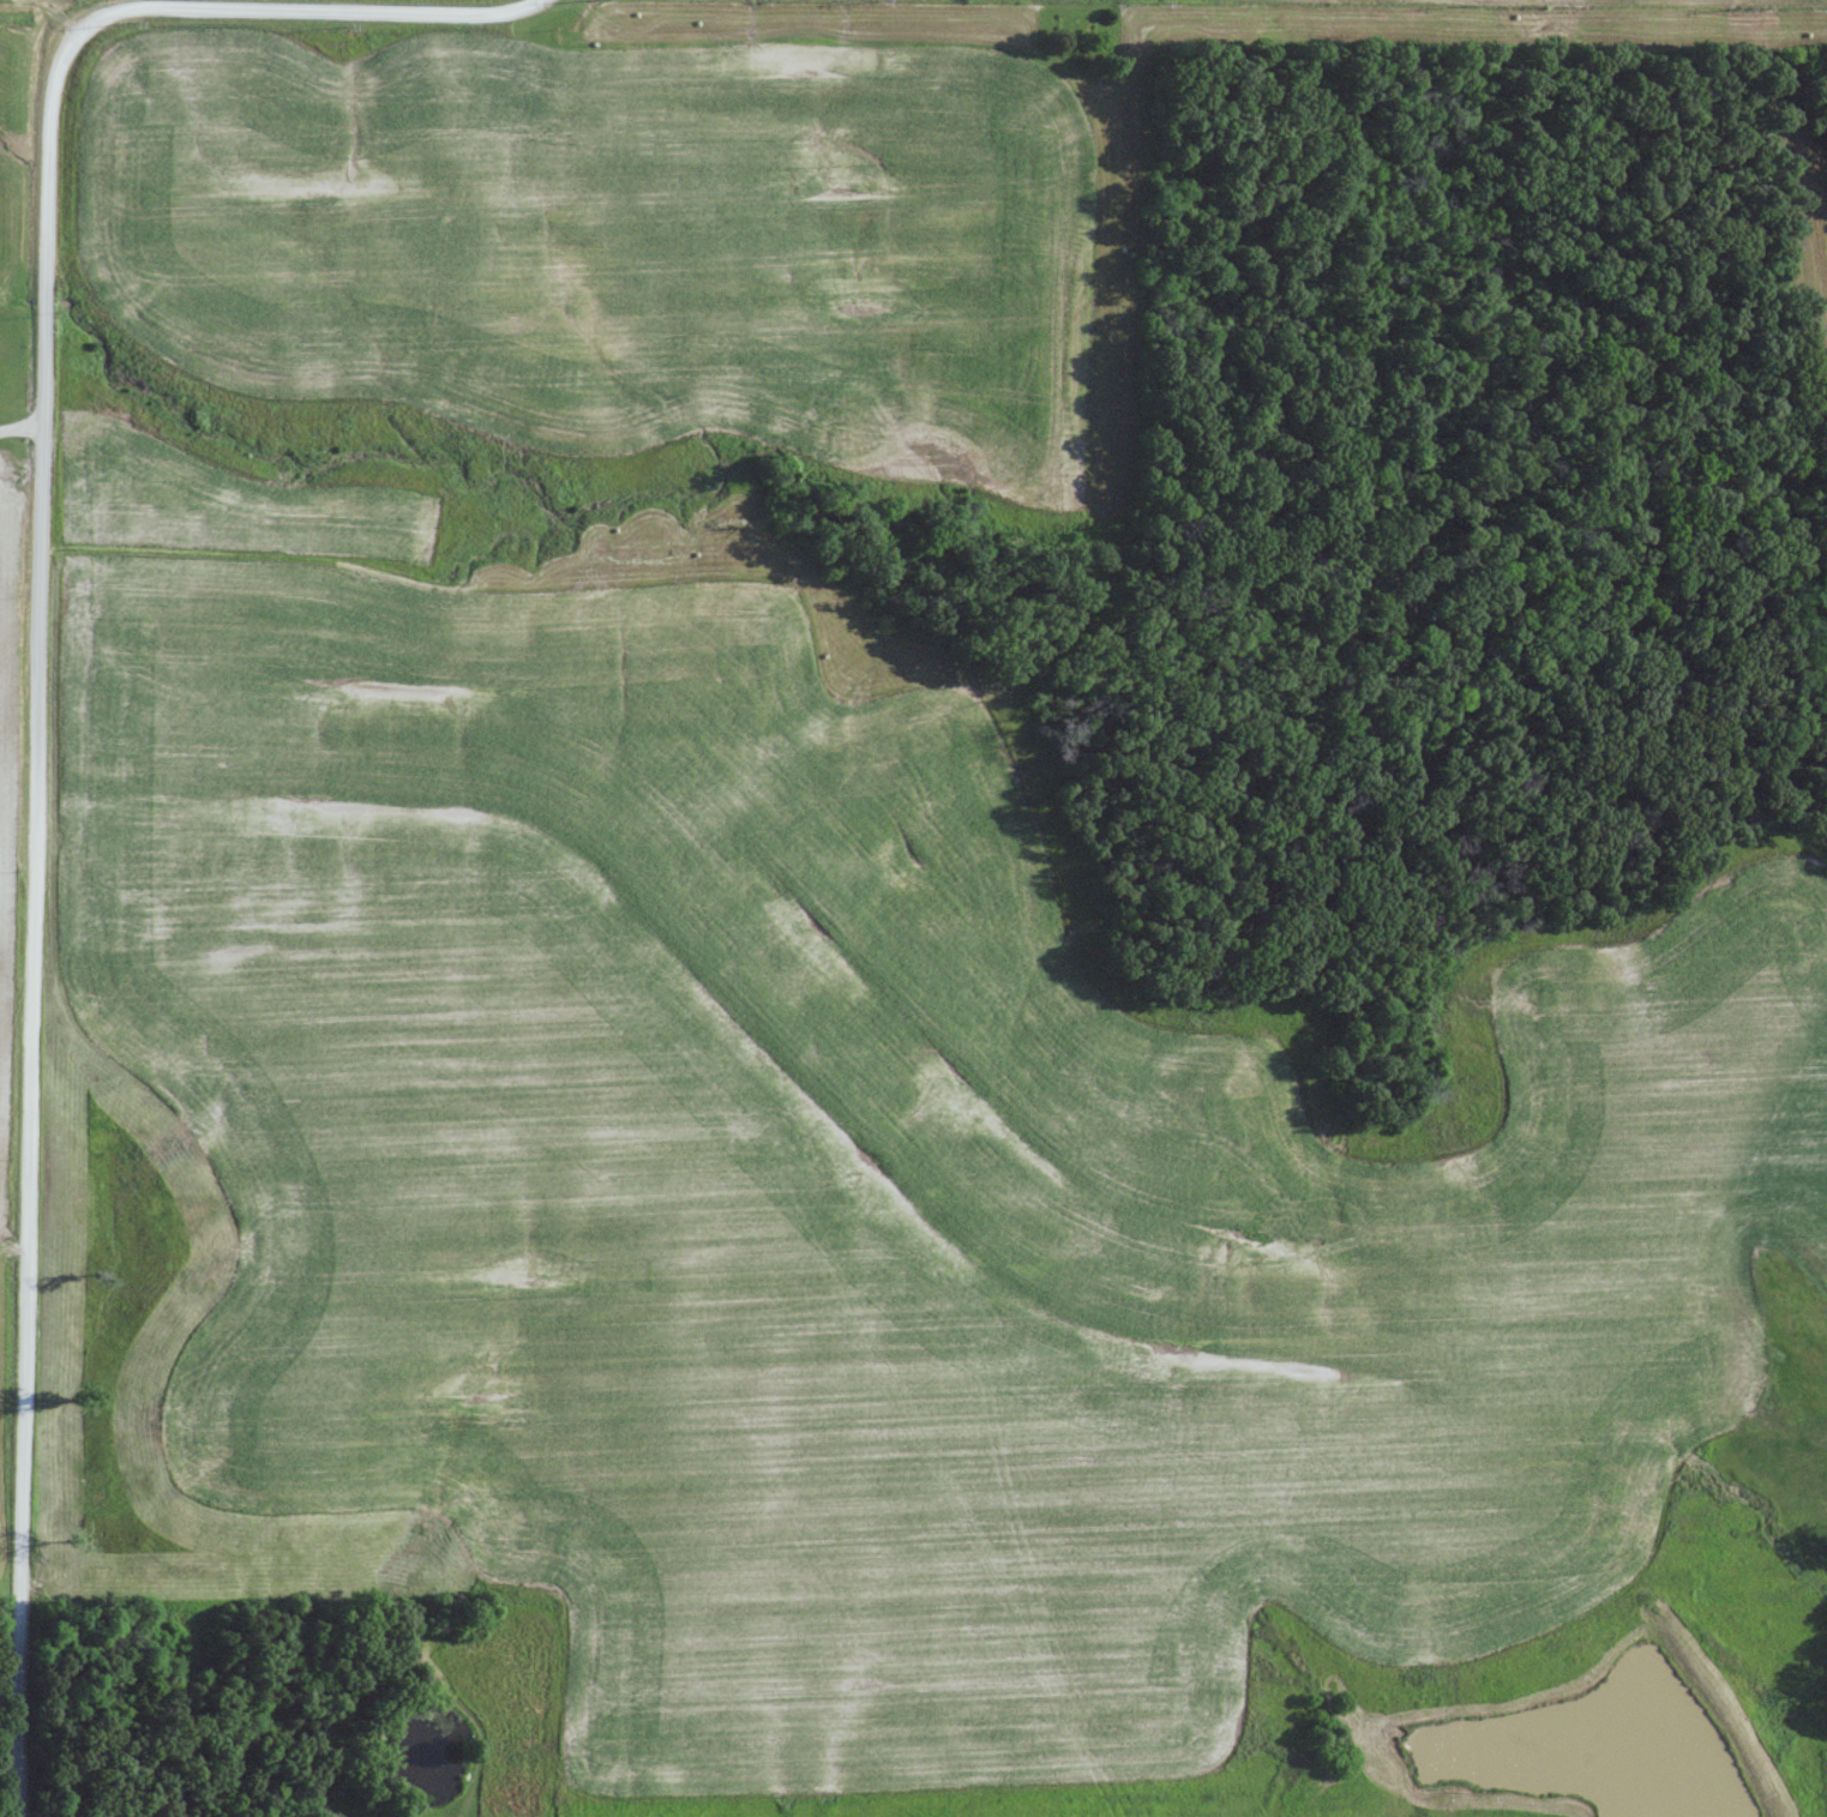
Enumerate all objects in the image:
road: (22, 427)
road: (38, 685)

